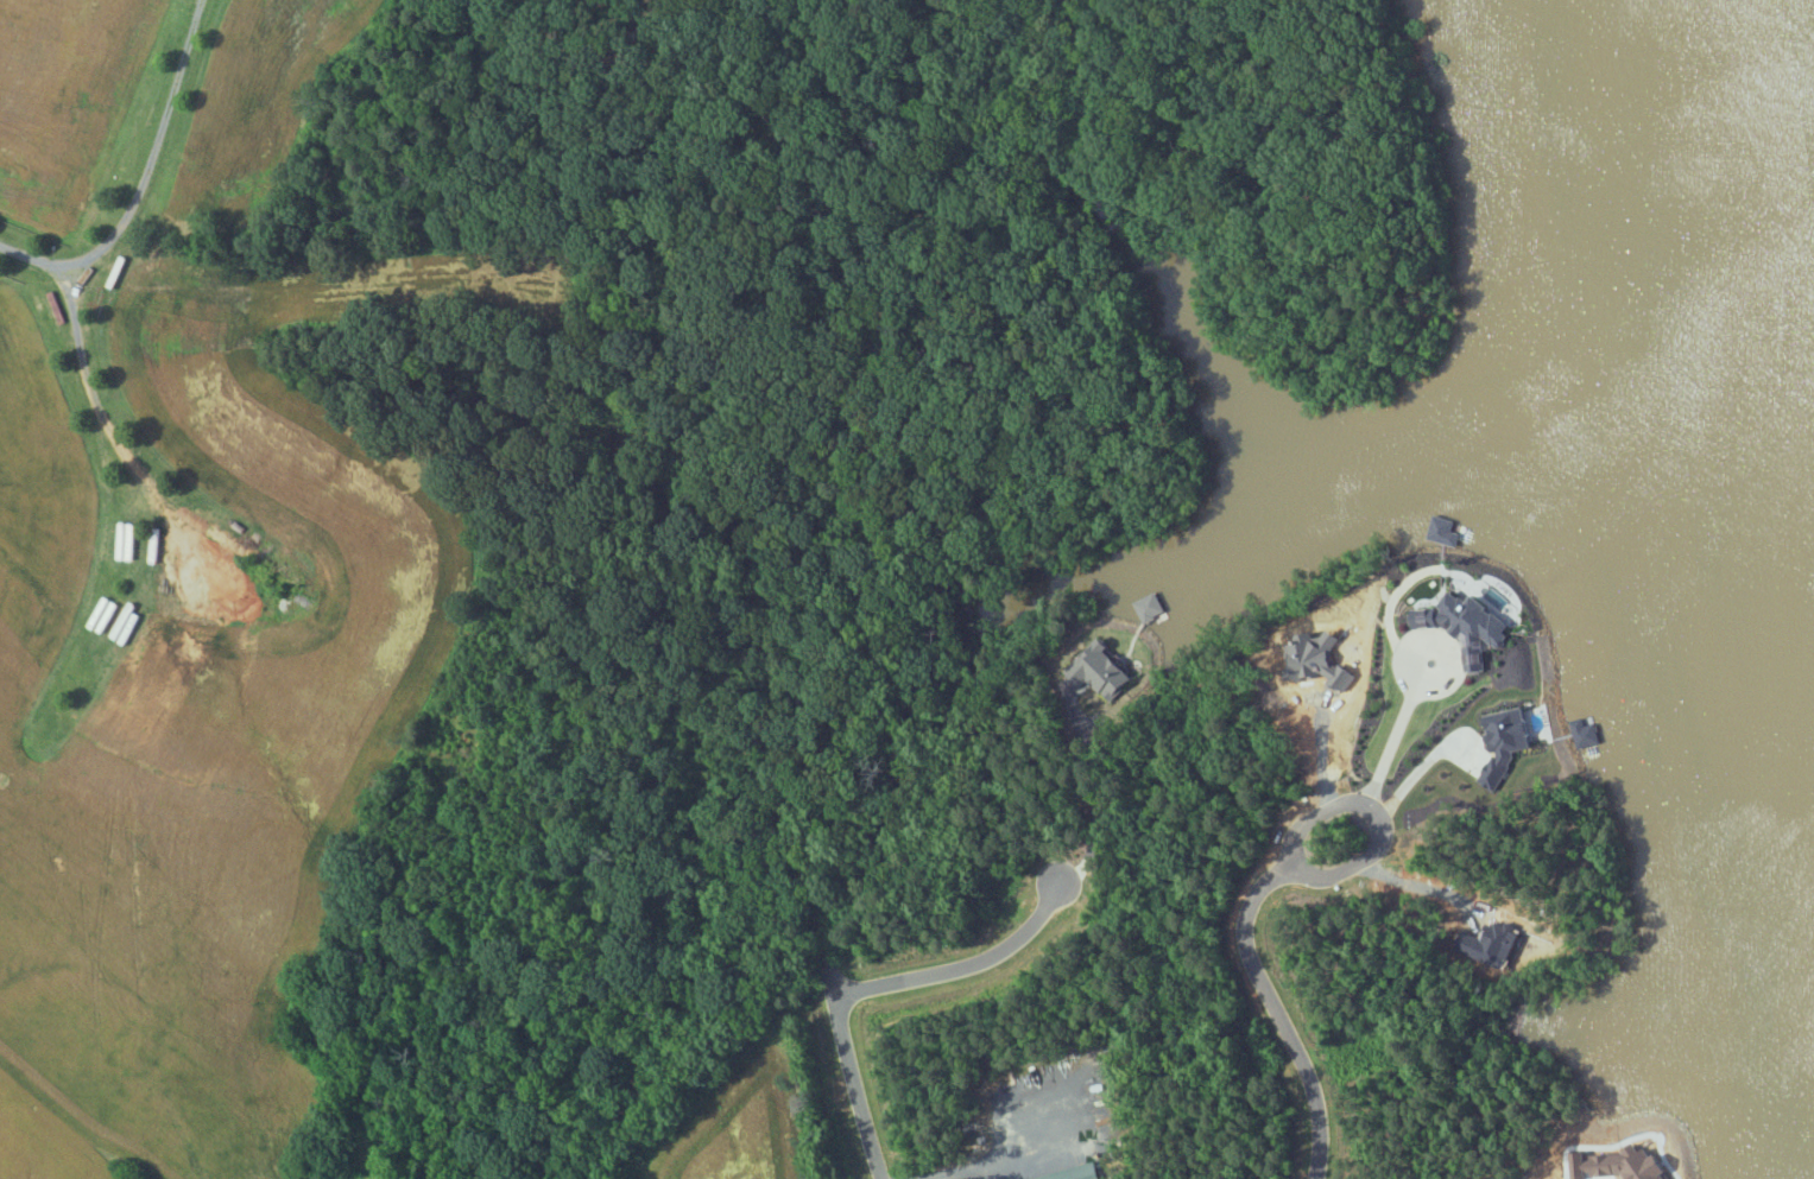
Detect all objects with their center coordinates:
road: (81, 346)
building: (1443, 530)
building: (1493, 600)
building: (1149, 608)
building: (1462, 625)
building: (1508, 733)
road: (1376, 818)
road: (962, 966)
road: (1277, 1012)
road: (851, 1072)

